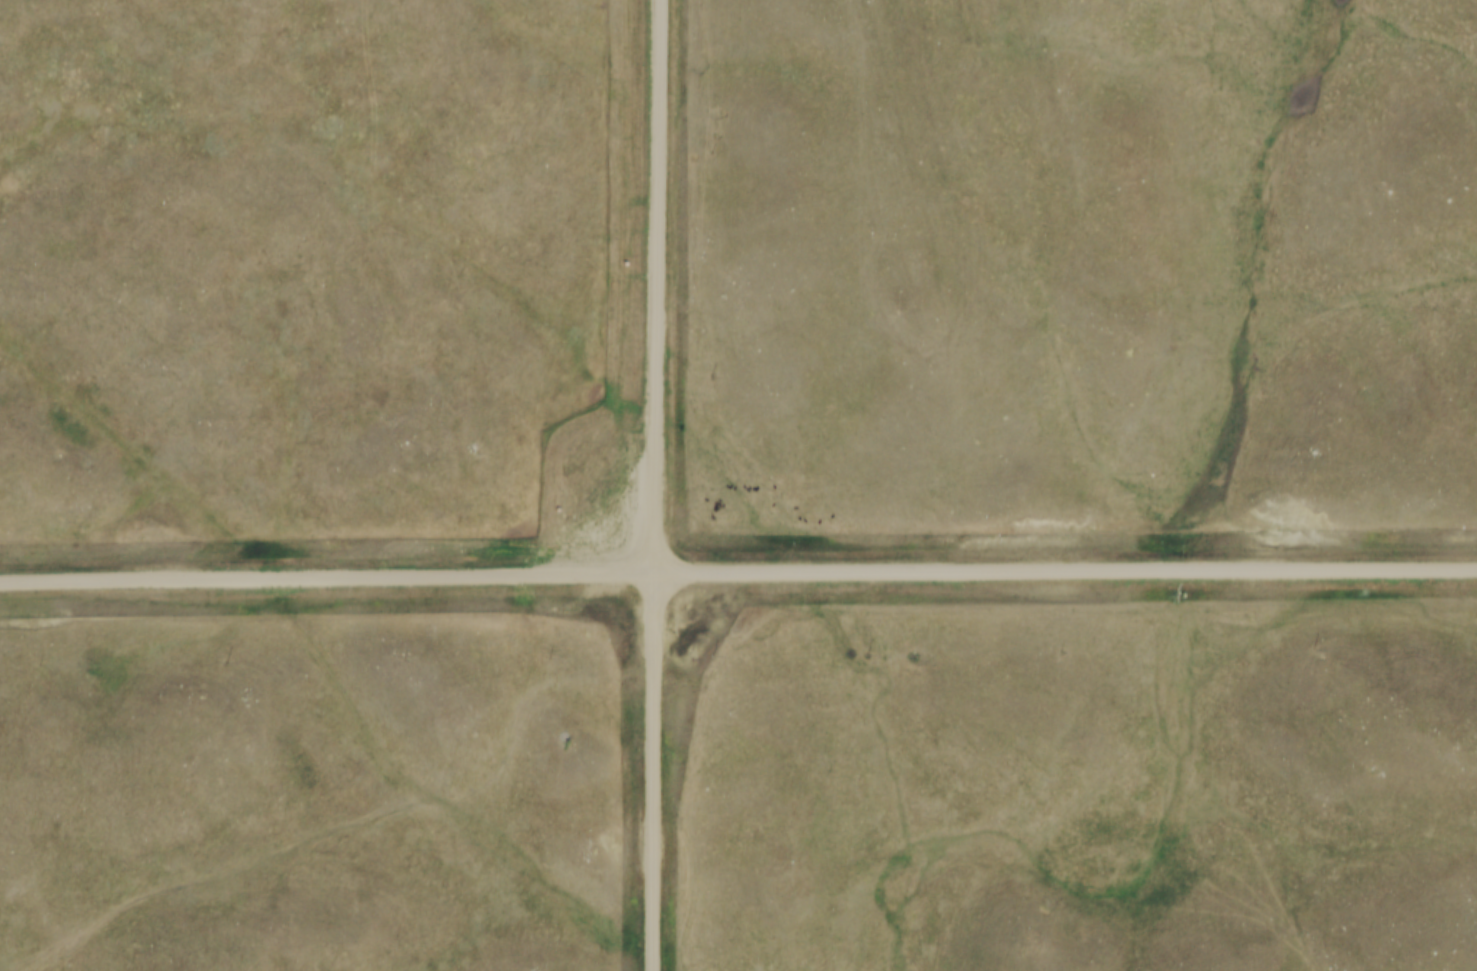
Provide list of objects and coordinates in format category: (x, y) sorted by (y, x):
road: (655, 485)
road: (738, 574)

